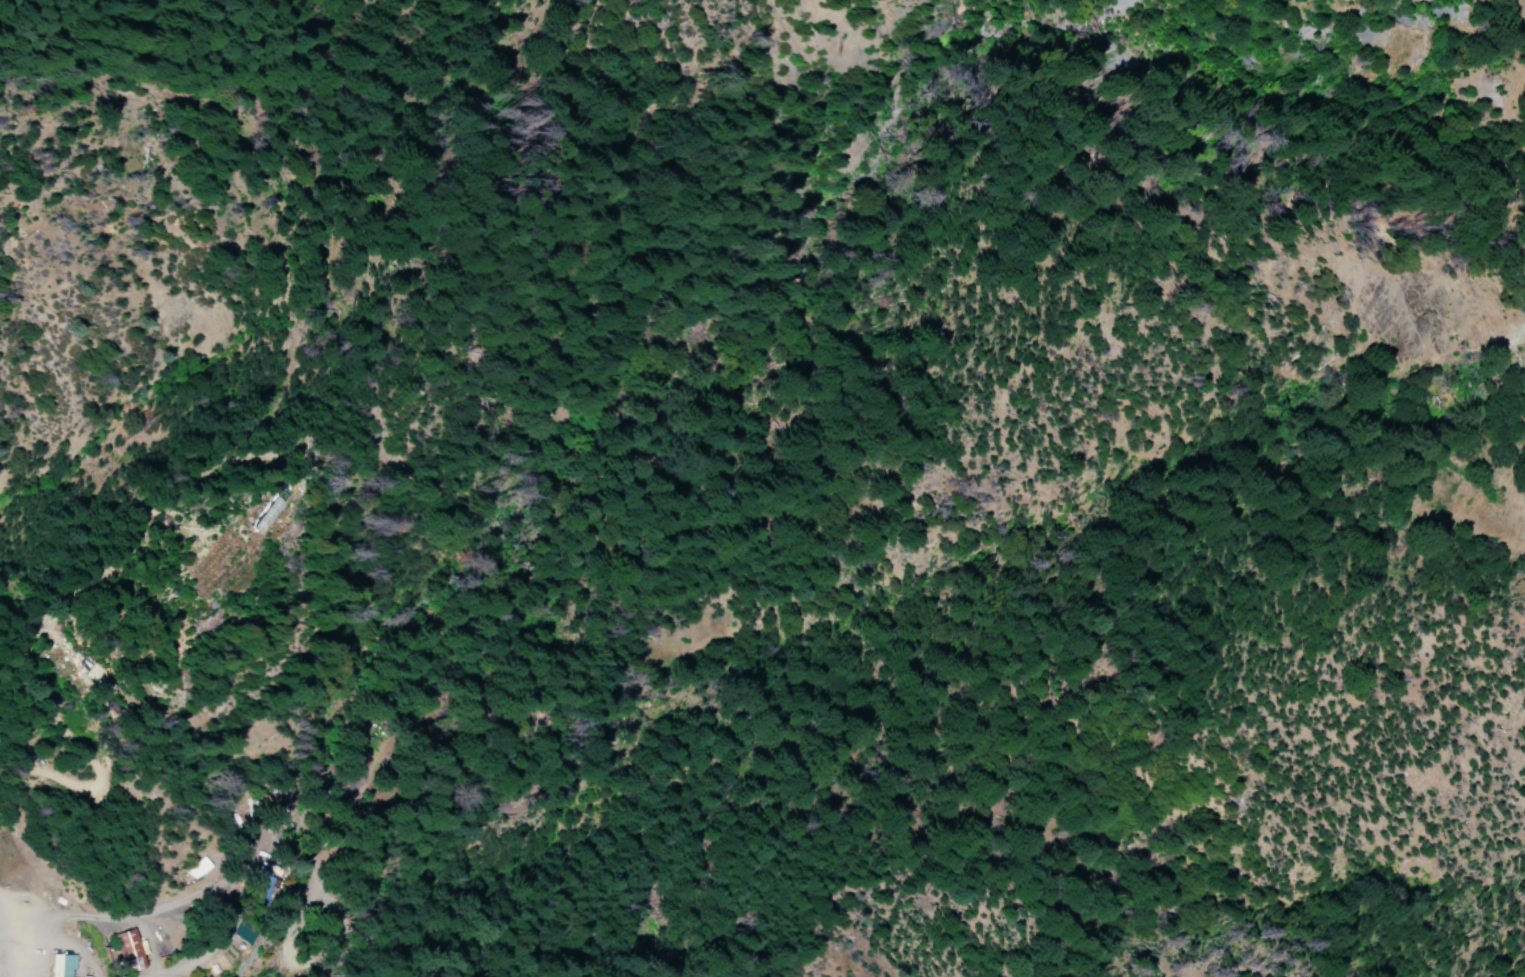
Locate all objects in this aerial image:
road: (367, 771)
building: (266, 884)
building: (245, 933)
building: (129, 951)
building: (63, 965)

